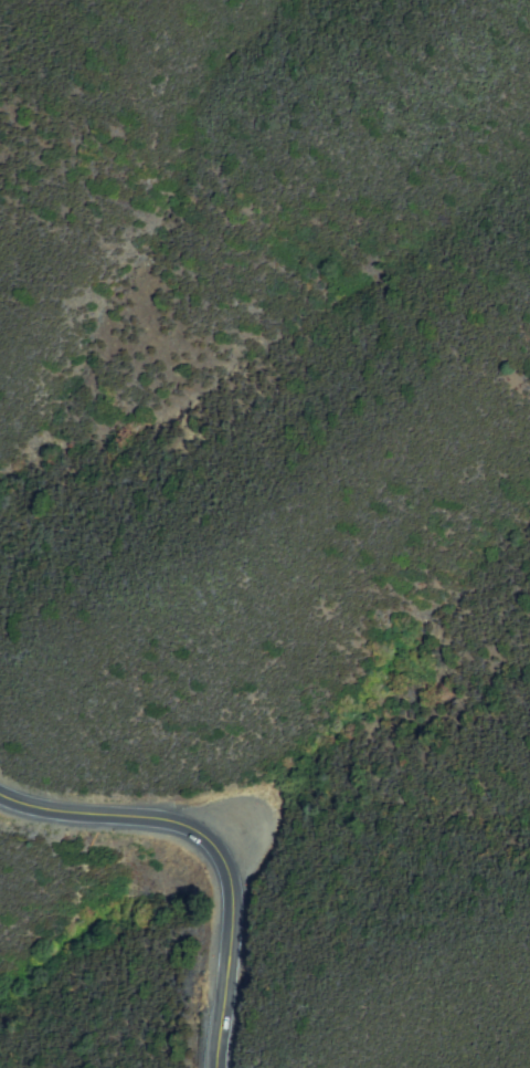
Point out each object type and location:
road: (210, 849)

